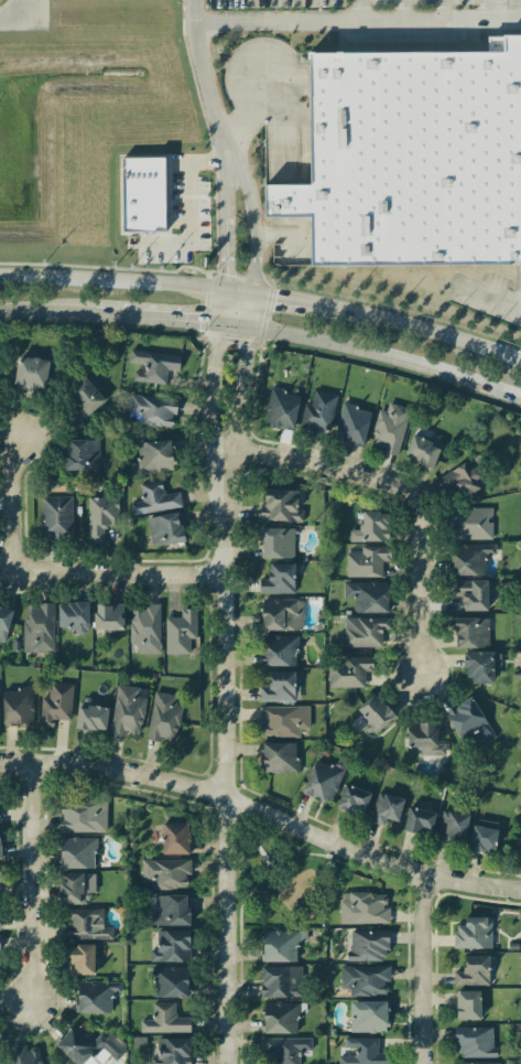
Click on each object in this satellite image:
parking lot: (355, 4)
road: (361, 10)
road: (401, 10)
road: (446, 10)
road: (484, 10)
road: (14, 14)
road: (358, 21)
road: (204, 66)
building: (410, 155)
building: (142, 194)
road: (186, 205)
road: (224, 212)
road: (252, 212)
road: (111, 282)
traffic signals: (224, 293)
road: (488, 294)
road: (239, 295)
traffic signals: (254, 298)
road: (285, 302)
road: (45, 314)
road: (170, 322)
traffic signals: (219, 326)
road: (420, 330)
traffic signals: (249, 331)
road: (387, 356)
building: (153, 365)
building: (31, 373)
road: (211, 374)
road: (242, 376)
building: (84, 397)
building: (281, 409)
building: (151, 410)
building: (318, 412)
building: (352, 424)
building: (389, 428)
building: (423, 450)
building: (82, 454)
building: (153, 458)
building: (460, 480)
road: (410, 488)
building: (154, 498)
building: (280, 506)
building: (100, 516)
building: (56, 517)
building: (470, 524)
building: (371, 527)
building: (165, 529)
building: (276, 542)
building: (469, 558)
building: (367, 561)
road: (58, 570)
building: (278, 579)
building: (471, 593)
building: (368, 595)
building: (281, 614)
building: (73, 616)
building: (108, 616)
building: (4, 622)
building: (37, 627)
building: (145, 627)
building: (363, 631)
building: (180, 632)
building: (471, 632)
building: (279, 651)
building: (481, 666)
building: (349, 671)
building: (279, 688)
building: (56, 703)
building: (17, 707)
building: (127, 711)
building: (373, 714)
building: (90, 716)
building: (163, 718)
building: (466, 719)
building: (283, 720)
building: (425, 739)
building: (280, 757)
road: (231, 759)
building: (324, 780)
road: (221, 793)
building: (352, 799)
building: (386, 808)
building: (83, 816)
building: (419, 821)
building: (452, 826)
building: (484, 836)
building: (175, 838)
building: (77, 852)
building: (0, 871)
building: (164, 873)
road: (30, 882)
road: (475, 886)
building: (75, 888)
building: (362, 907)
building: (169, 911)
building: (85, 925)
building: (474, 933)
building: (367, 945)
building: (171, 946)
building: (282, 946)
building: (80, 959)
road: (431, 970)
building: (473, 971)
building: (365, 980)
building: (171, 981)
building: (280, 981)
building: (96, 996)
building: (467, 1004)
building: (281, 1017)
building: (369, 1017)
building: (165, 1020)
building: (1, 1041)
building: (474, 1042)
building: (88, 1046)
building: (285, 1049)
building: (172, 1051)
building: (363, 1052)
building: (26, 1055)
building: (477, 1063)

